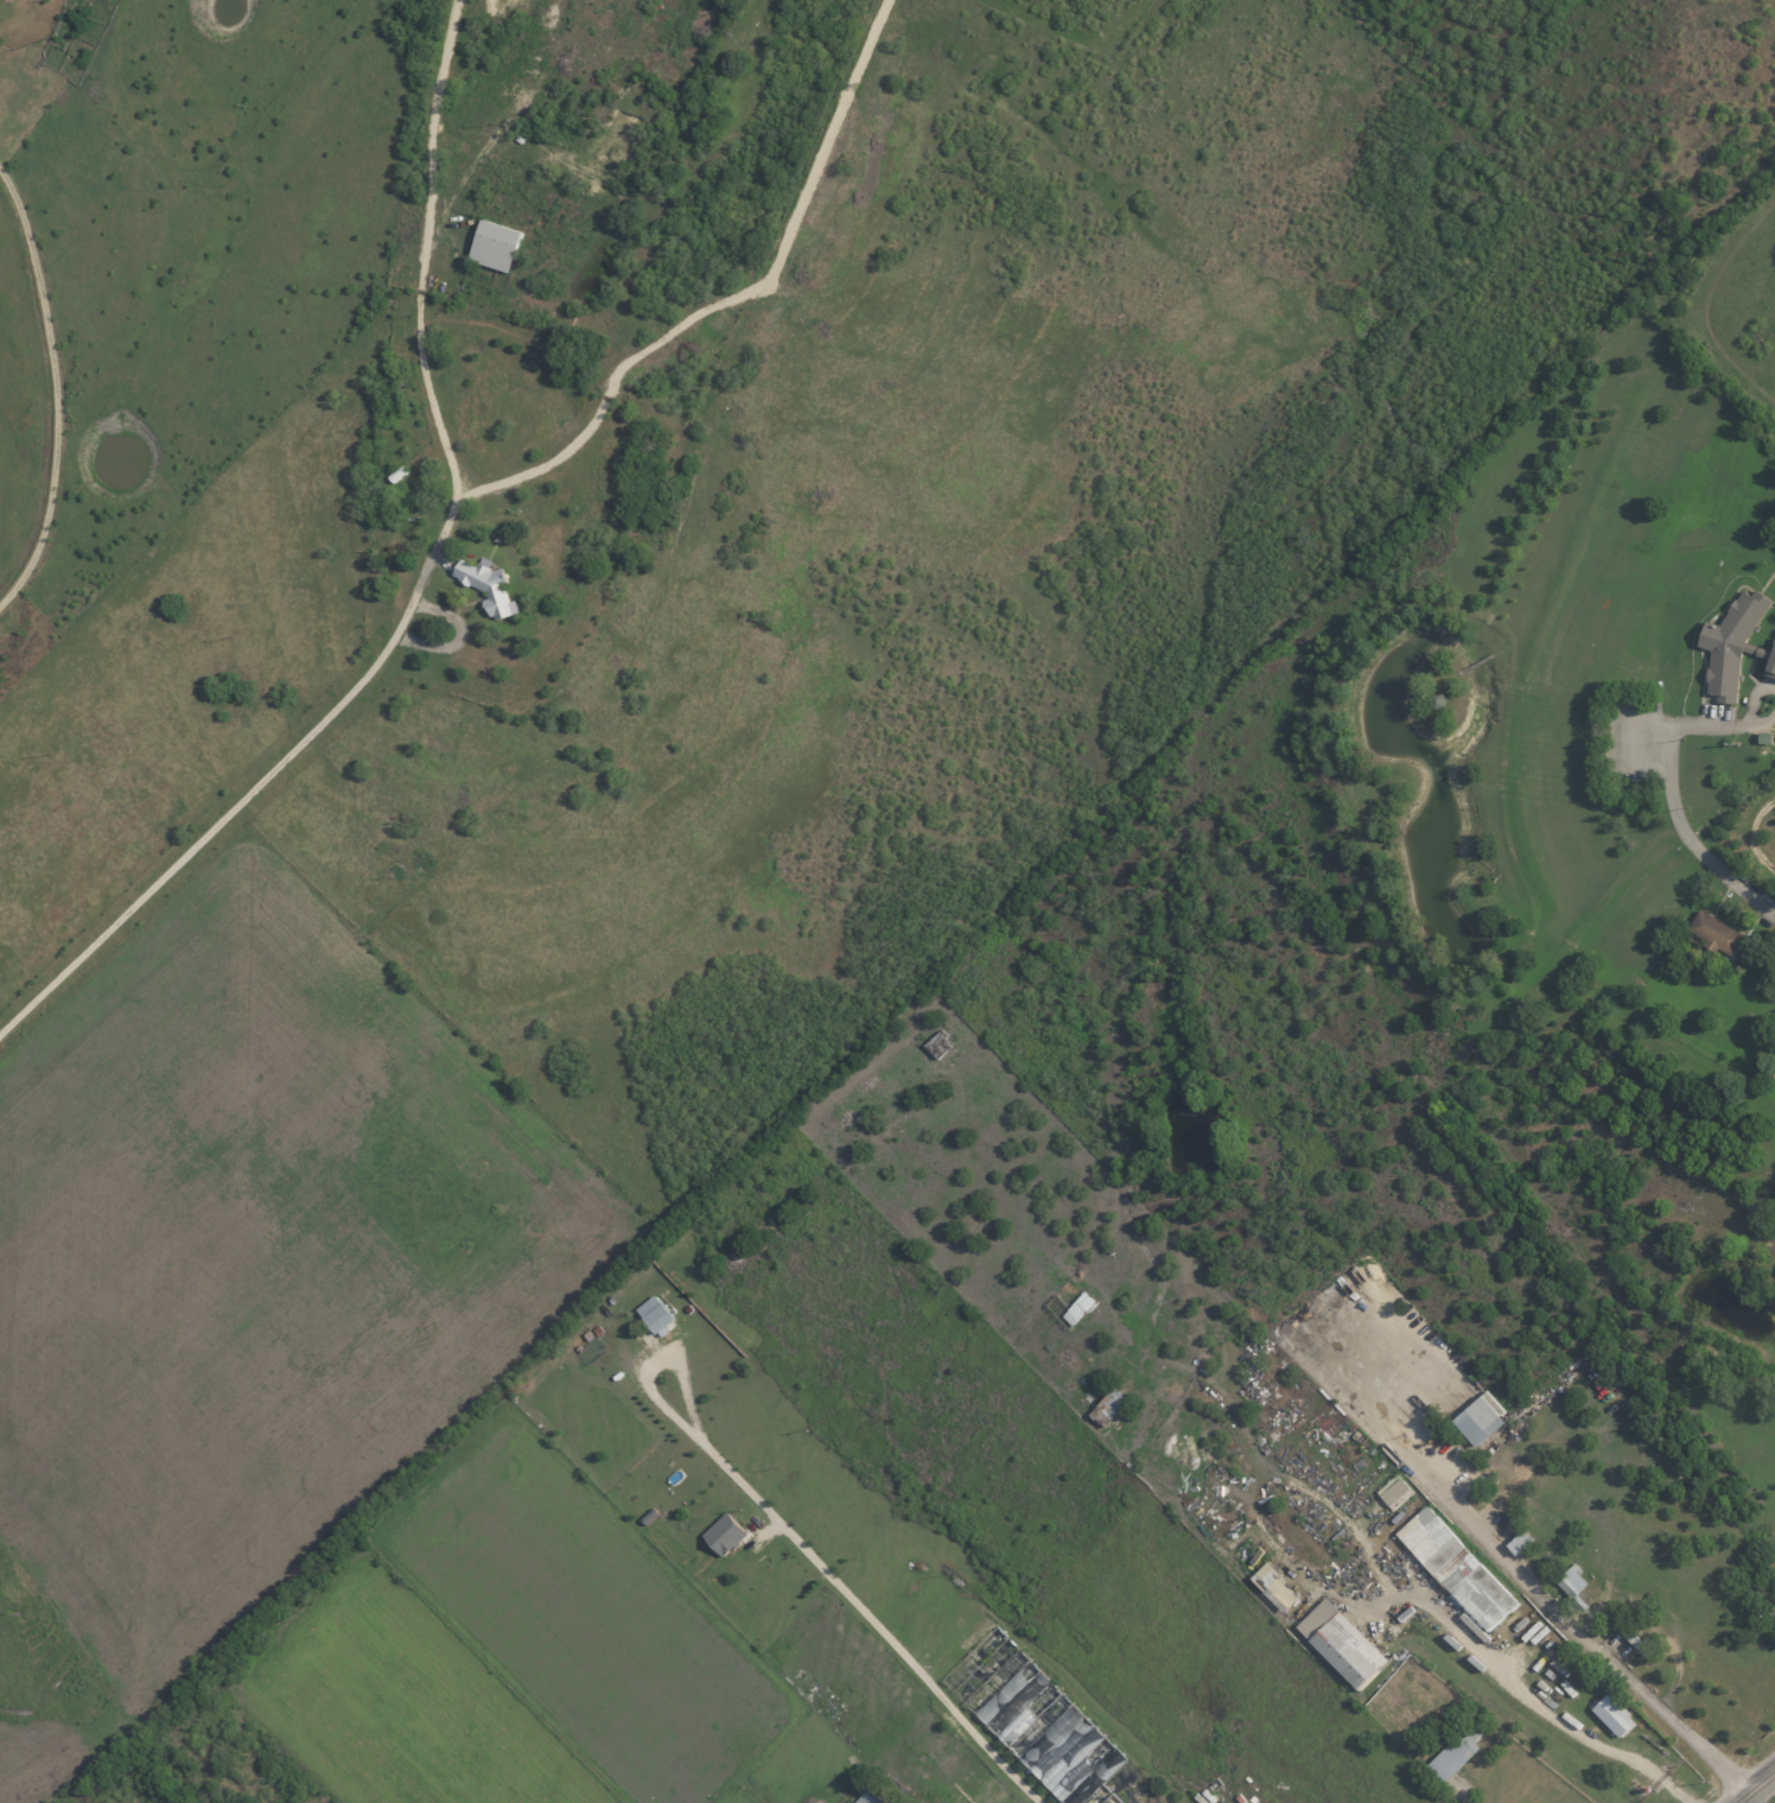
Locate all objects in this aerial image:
building: (500, 246)
road: (422, 273)
road: (729, 300)
road: (55, 392)
building: (490, 586)
building: (1737, 643)
road: (1752, 698)
road: (1762, 724)
road: (1699, 730)
road: (240, 801)
road: (1696, 850)
building: (1719, 932)
building: (1082, 1308)
building: (659, 1313)
road: (659, 1365)
building: (1113, 1405)
building: (1485, 1417)
building: (1397, 1490)
building: (727, 1534)
building: (1525, 1542)
building: (1462, 1568)
road: (1519, 1572)
building: (1574, 1582)
building: (1278, 1587)
building: (1773, 1613)
road: (877, 1623)
building: (1635, 1638)
building: (1347, 1643)
road: (1529, 1699)
building: (1018, 1702)
building: (1617, 1715)
building: (1075, 1756)
building: (1458, 1756)
road: (1757, 1788)
road: (1465, 1796)
building: (874, 1797)

